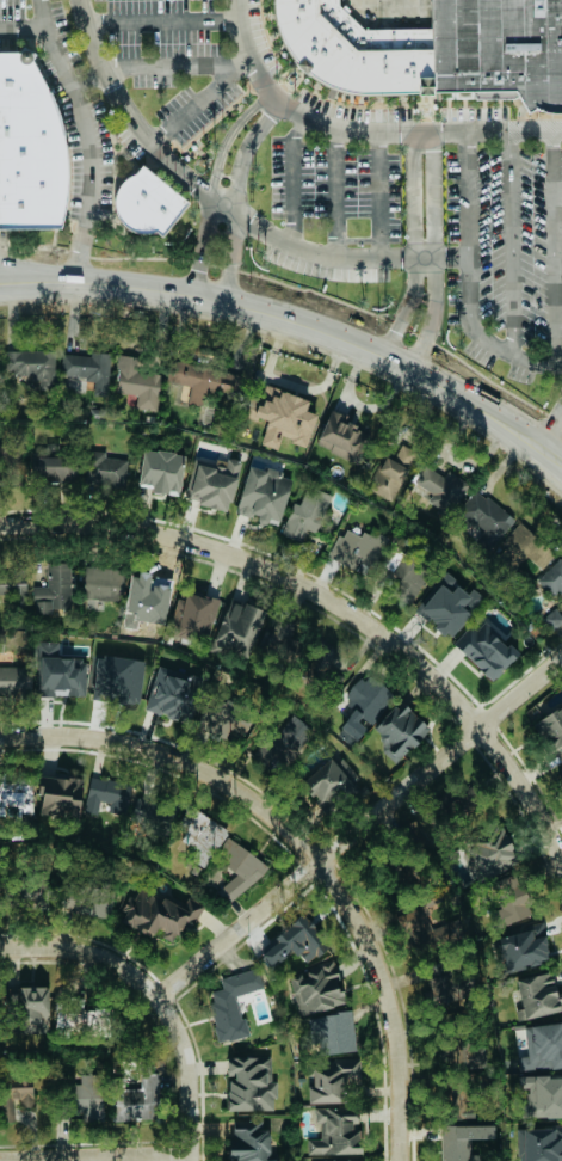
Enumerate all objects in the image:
road: (41, 14)
road: (161, 24)
building: (499, 48)
building: (351, 51)
road: (177, 63)
road: (200, 100)
road: (79, 102)
road: (363, 130)
building: (26, 147)
road: (294, 176)
road: (211, 178)
road: (234, 188)
road: (336, 190)
road: (379, 193)
road: (223, 199)
building: (144, 202)
road: (412, 245)
road: (511, 245)
road: (79, 250)
road: (551, 250)
road: (434, 252)
road: (21, 276)
road: (464, 282)
road: (316, 328)
building: (30, 365)
building: (86, 368)
building: (204, 380)
building: (136, 382)
road: (291, 383)
building: (283, 417)
road: (549, 425)
building: (342, 437)
building: (1, 450)
building: (51, 468)
building: (104, 468)
building: (161, 471)
building: (390, 472)
building: (211, 481)
building: (440, 489)
building: (263, 494)
building: (304, 512)
building: (486, 518)
building: (525, 546)
building: (357, 547)
road: (264, 567)
building: (408, 577)
building: (552, 578)
building: (100, 583)
building: (53, 588)
building: (13, 589)
building: (154, 589)
building: (446, 604)
building: (191, 615)
building: (551, 618)
building: (237, 629)
building: (277, 635)
building: (483, 650)
building: (57, 672)
building: (14, 680)
building: (171, 694)
building: (363, 706)
building: (550, 727)
building: (399, 731)
building: (283, 743)
road: (177, 757)
building: (328, 786)
road: (524, 790)
building: (16, 793)
building: (106, 795)
building: (58, 797)
building: (146, 811)
road: (359, 828)
building: (199, 834)
building: (488, 854)
building: (236, 870)
building: (58, 897)
building: (509, 899)
building: (158, 913)
building: (428, 933)
building: (289, 944)
building: (520, 948)
road: (85, 953)
building: (440, 988)
building: (315, 989)
building: (537, 995)
building: (230, 1002)
road: (389, 1002)
building: (26, 1009)
building: (76, 1018)
building: (332, 1033)
building: (542, 1048)
road: (190, 1076)
building: (331, 1079)
building: (248, 1083)
building: (18, 1094)
building: (541, 1096)
building: (137, 1098)
building: (75, 1100)
building: (335, 1132)
building: (248, 1143)
building: (456, 1143)
building: (541, 1143)
road: (95, 1157)
building: (342, 1160)

